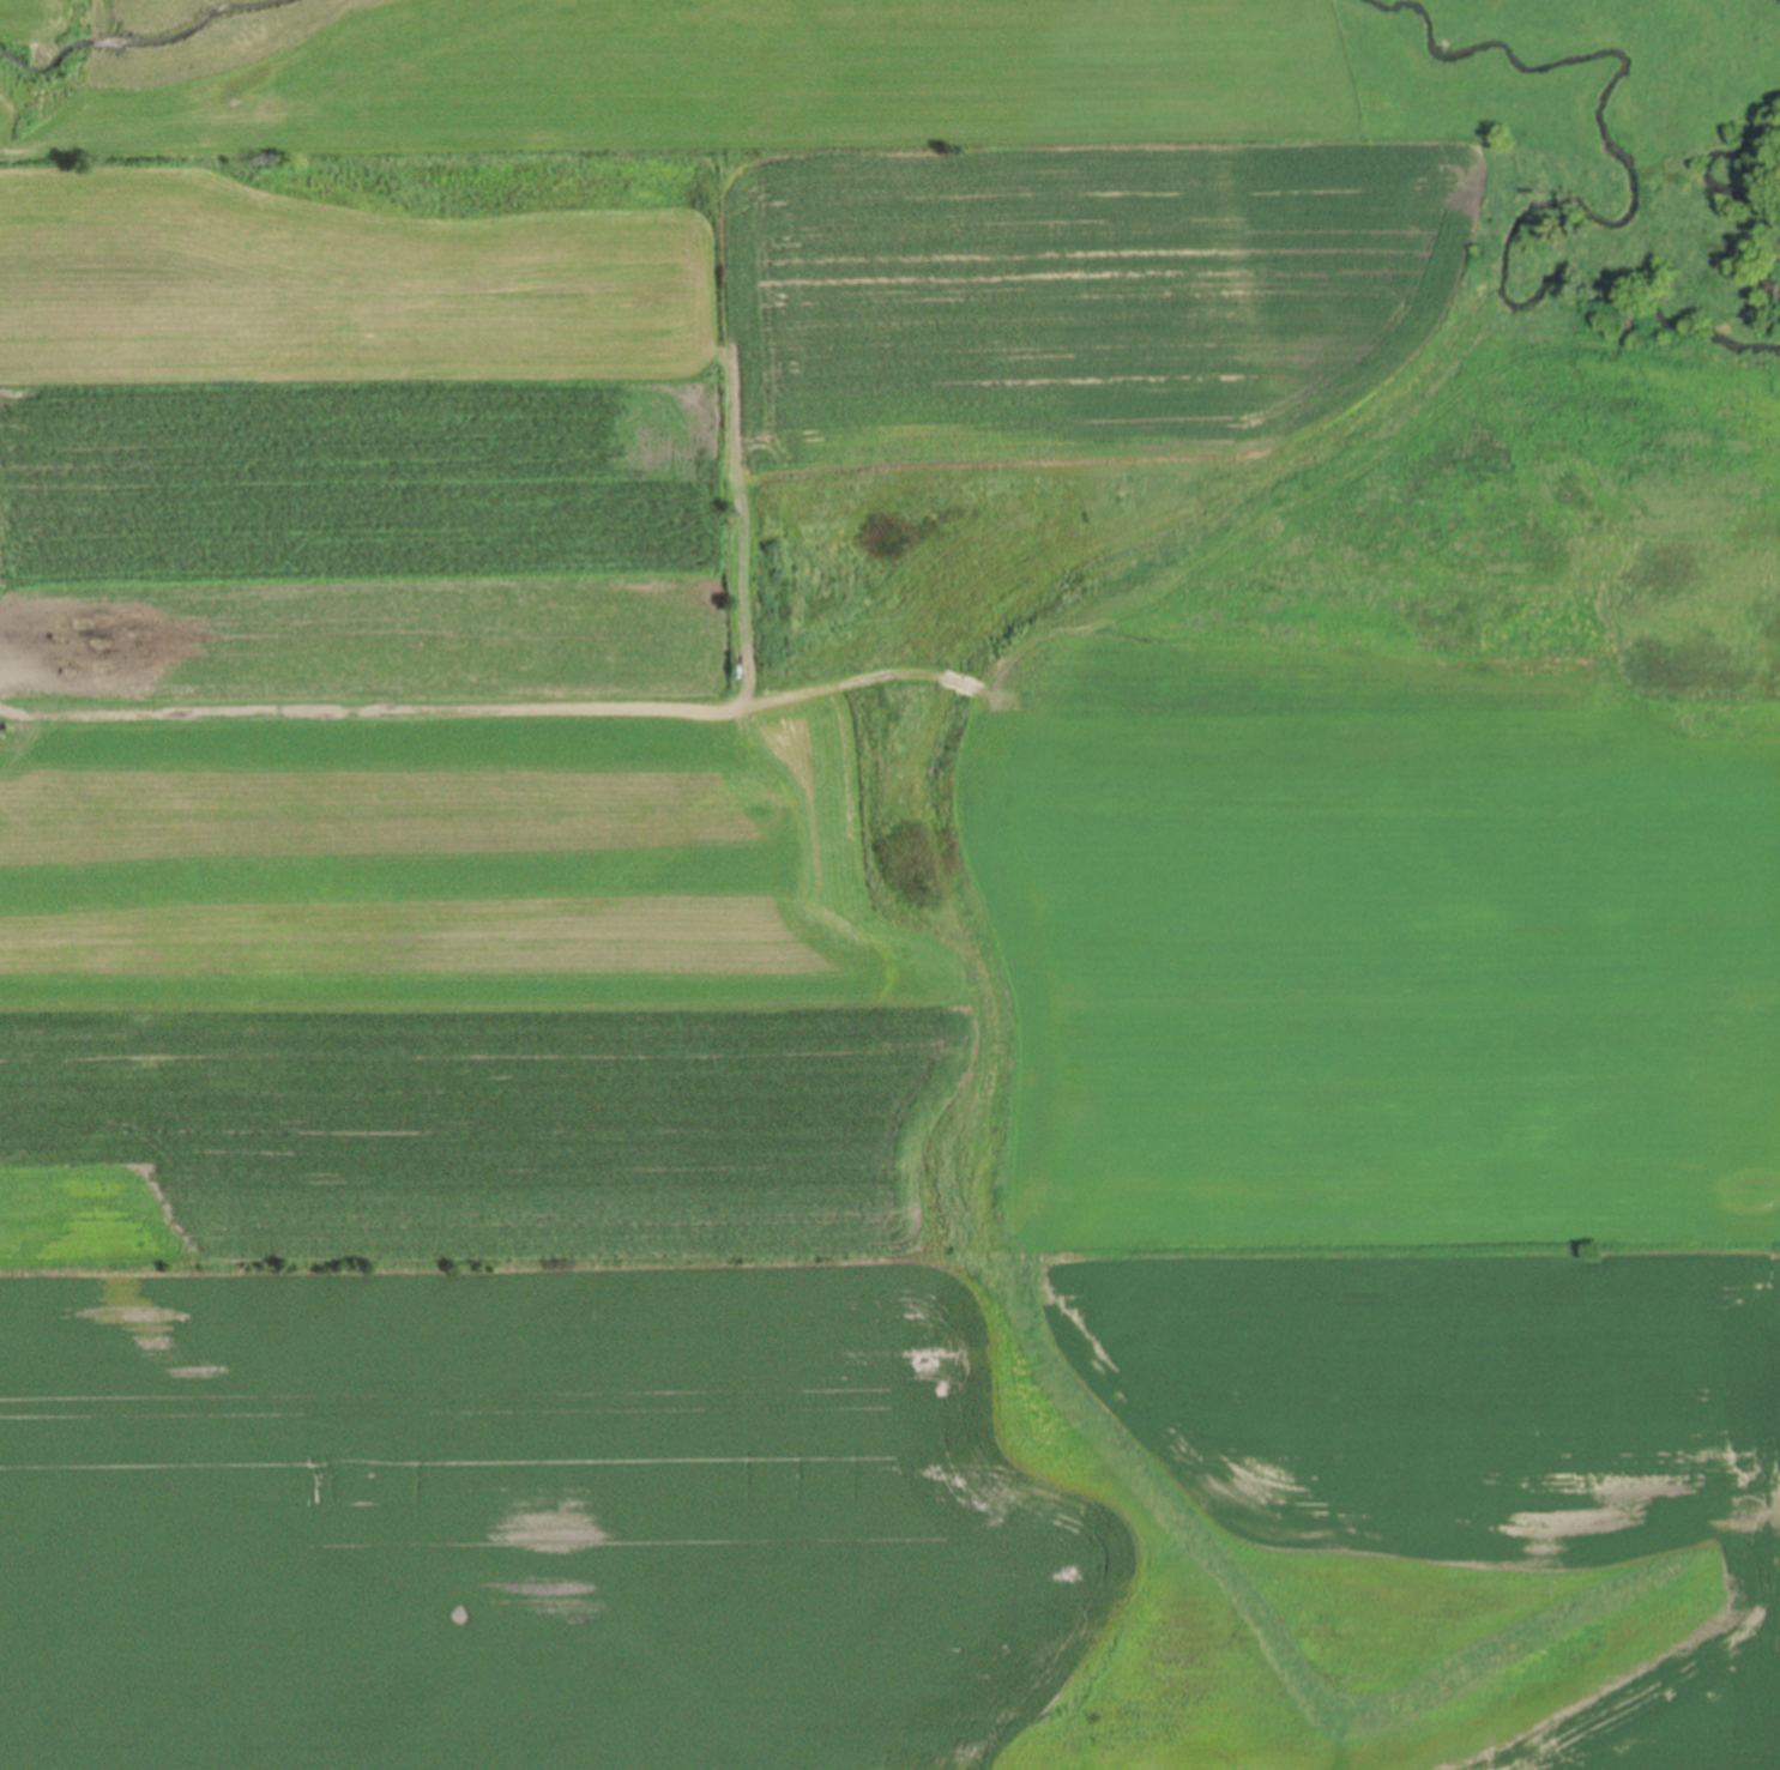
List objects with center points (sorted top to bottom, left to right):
road: (494, 707)

